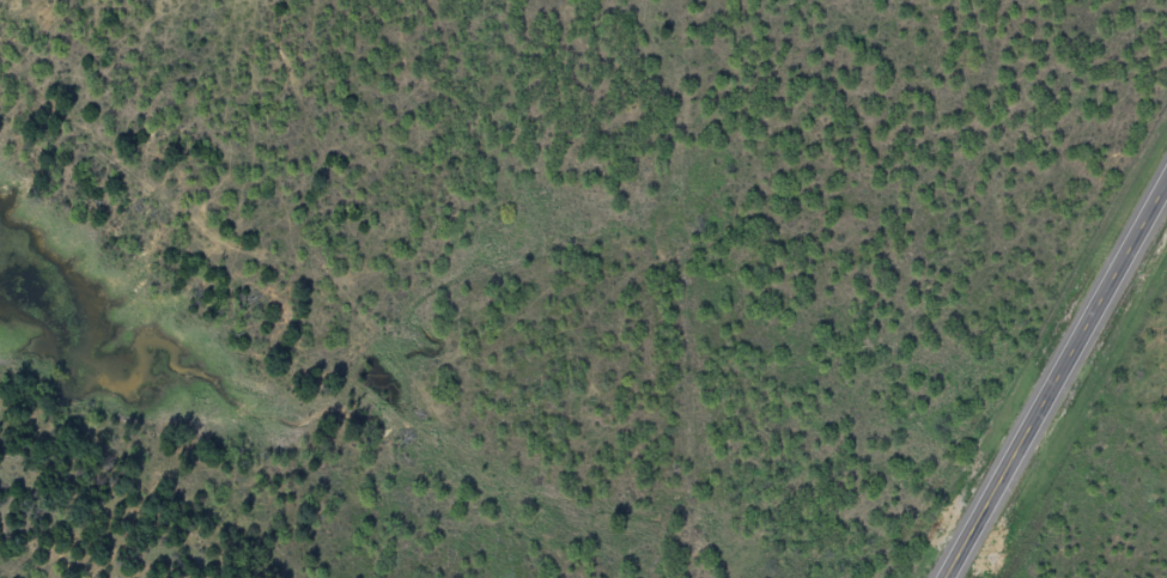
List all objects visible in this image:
road: (1054, 378)

